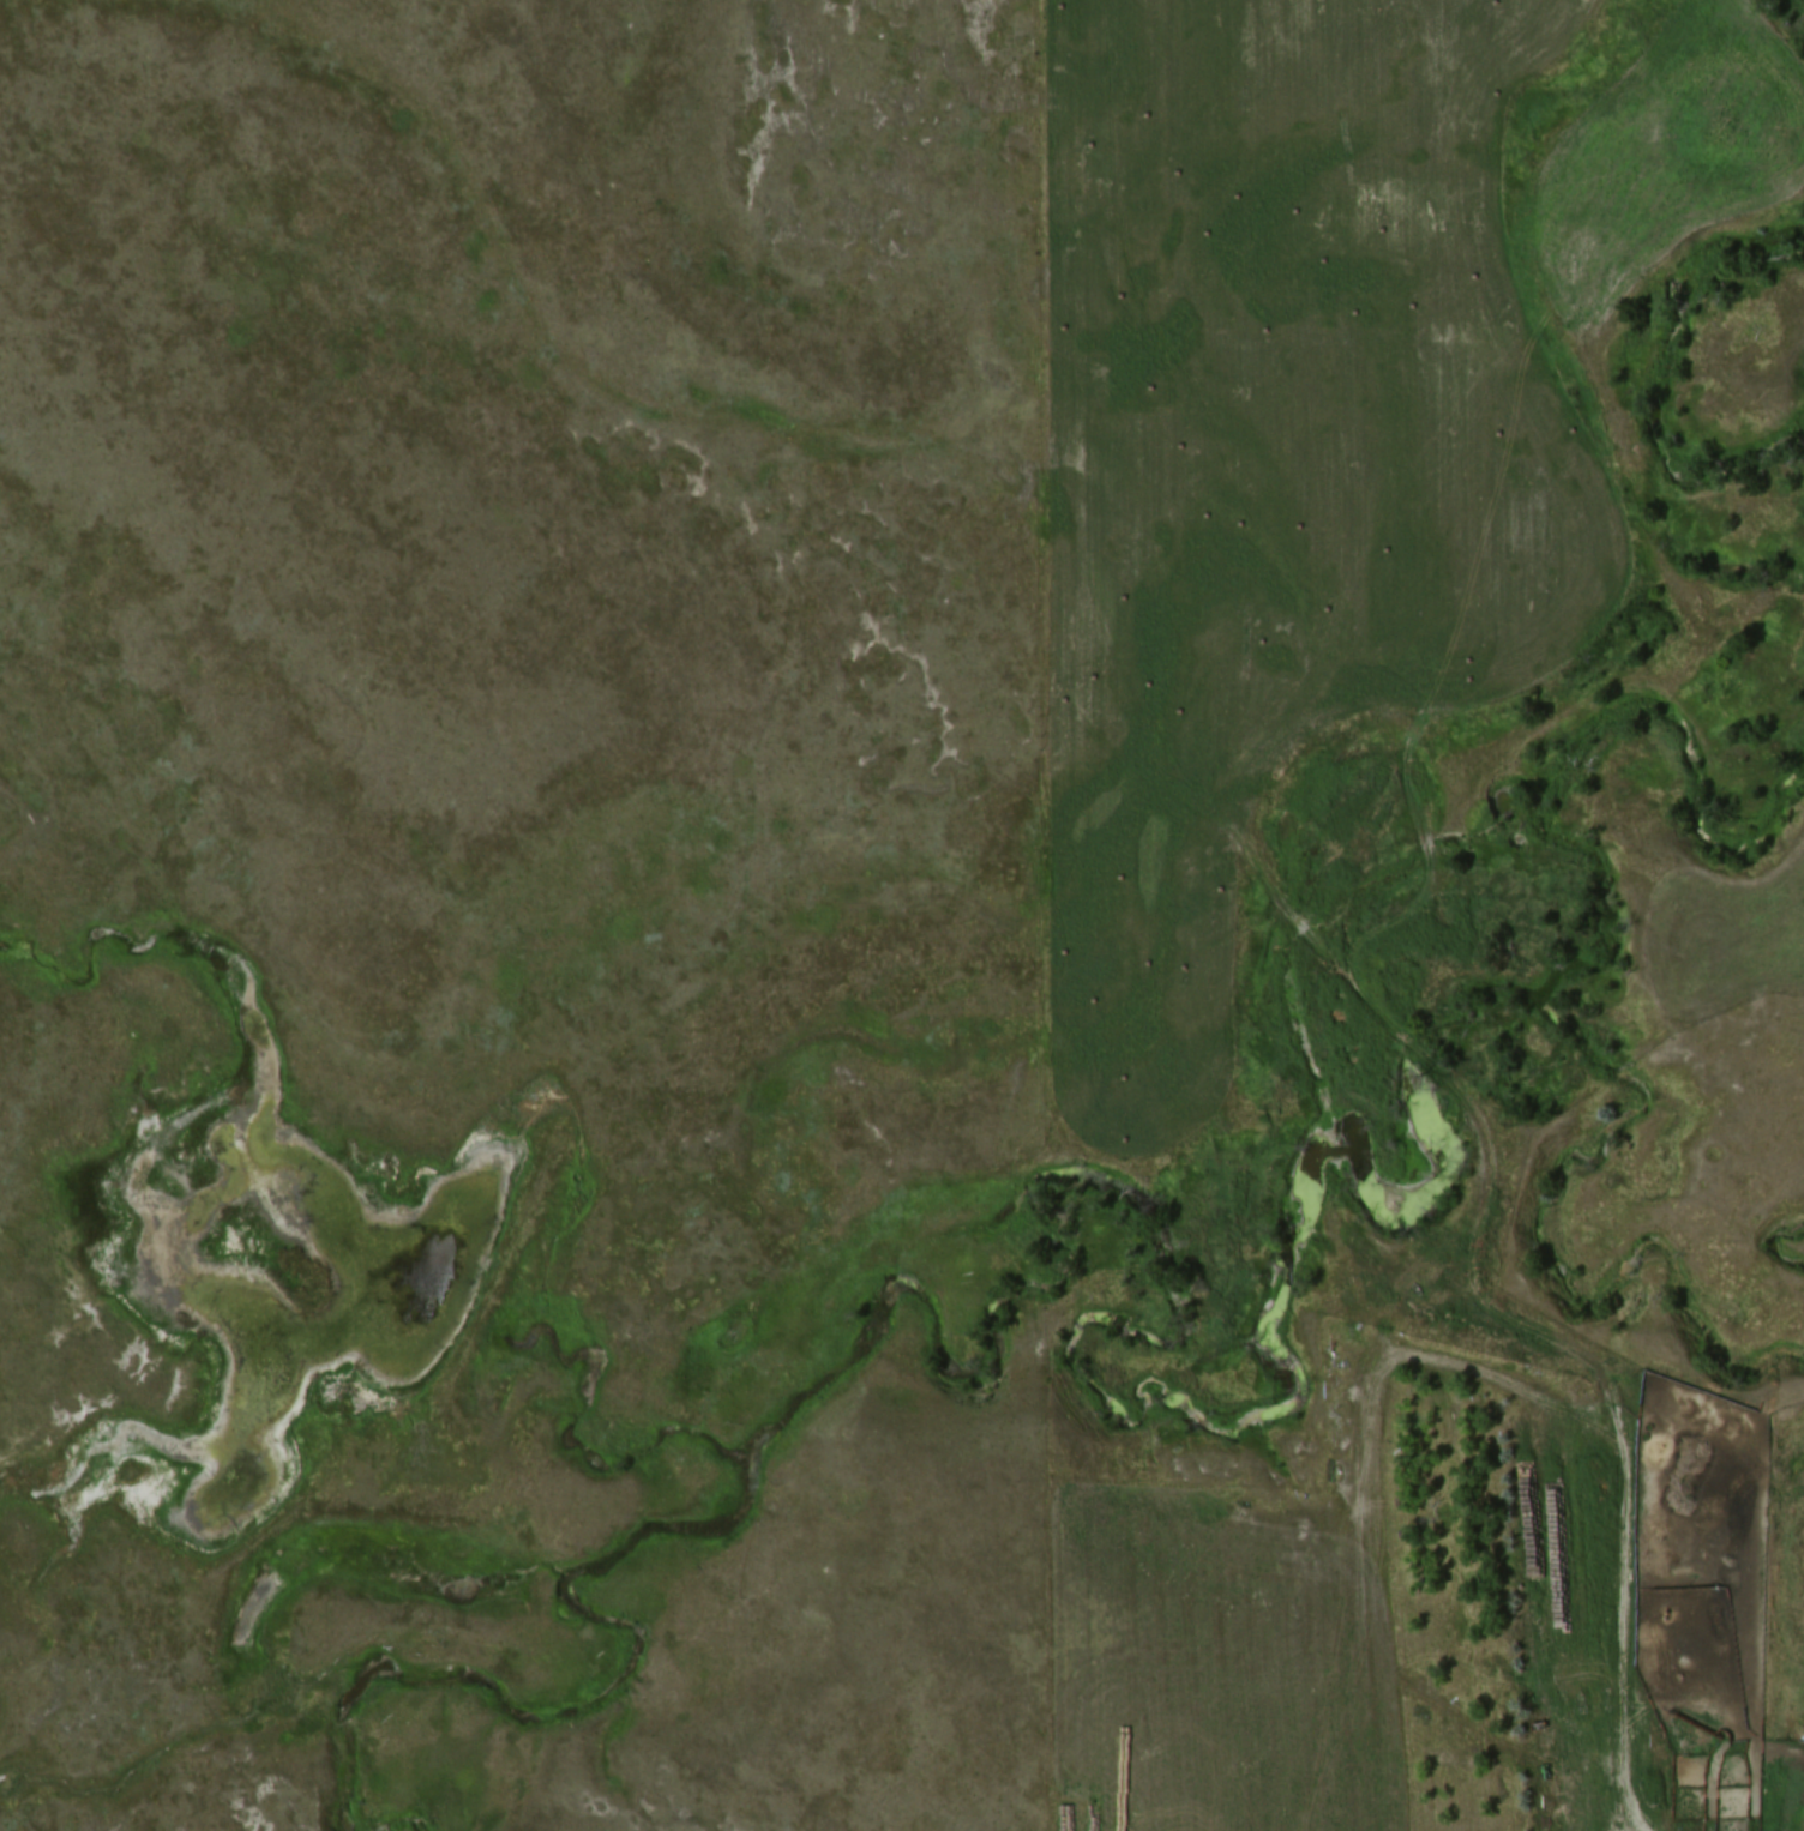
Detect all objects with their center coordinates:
road: (1638, 1667)

